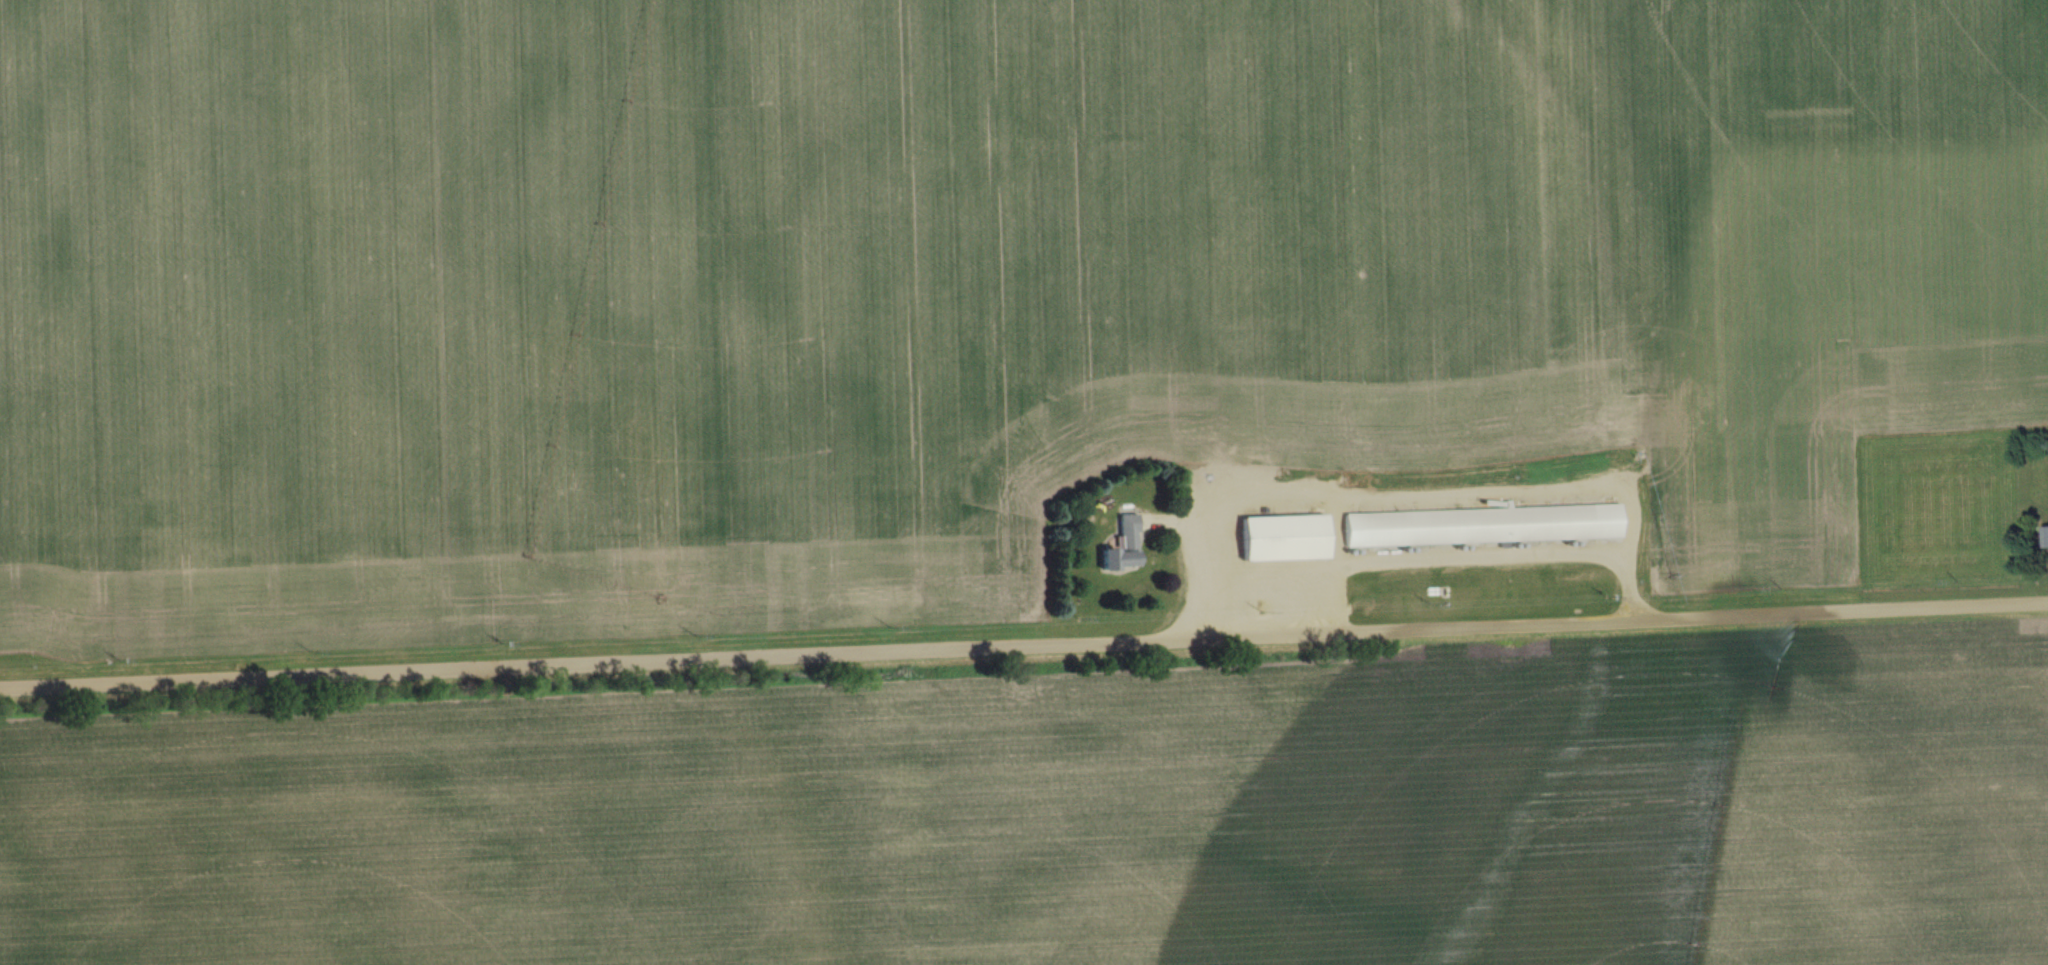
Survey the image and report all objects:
crop: (946, 288)
road: (1418, 493)
building: (1485, 525)
building: (1284, 535)
building: (2046, 535)
building: (1124, 545)
road: (1422, 561)
road: (1024, 643)
crop: (1074, 822)

